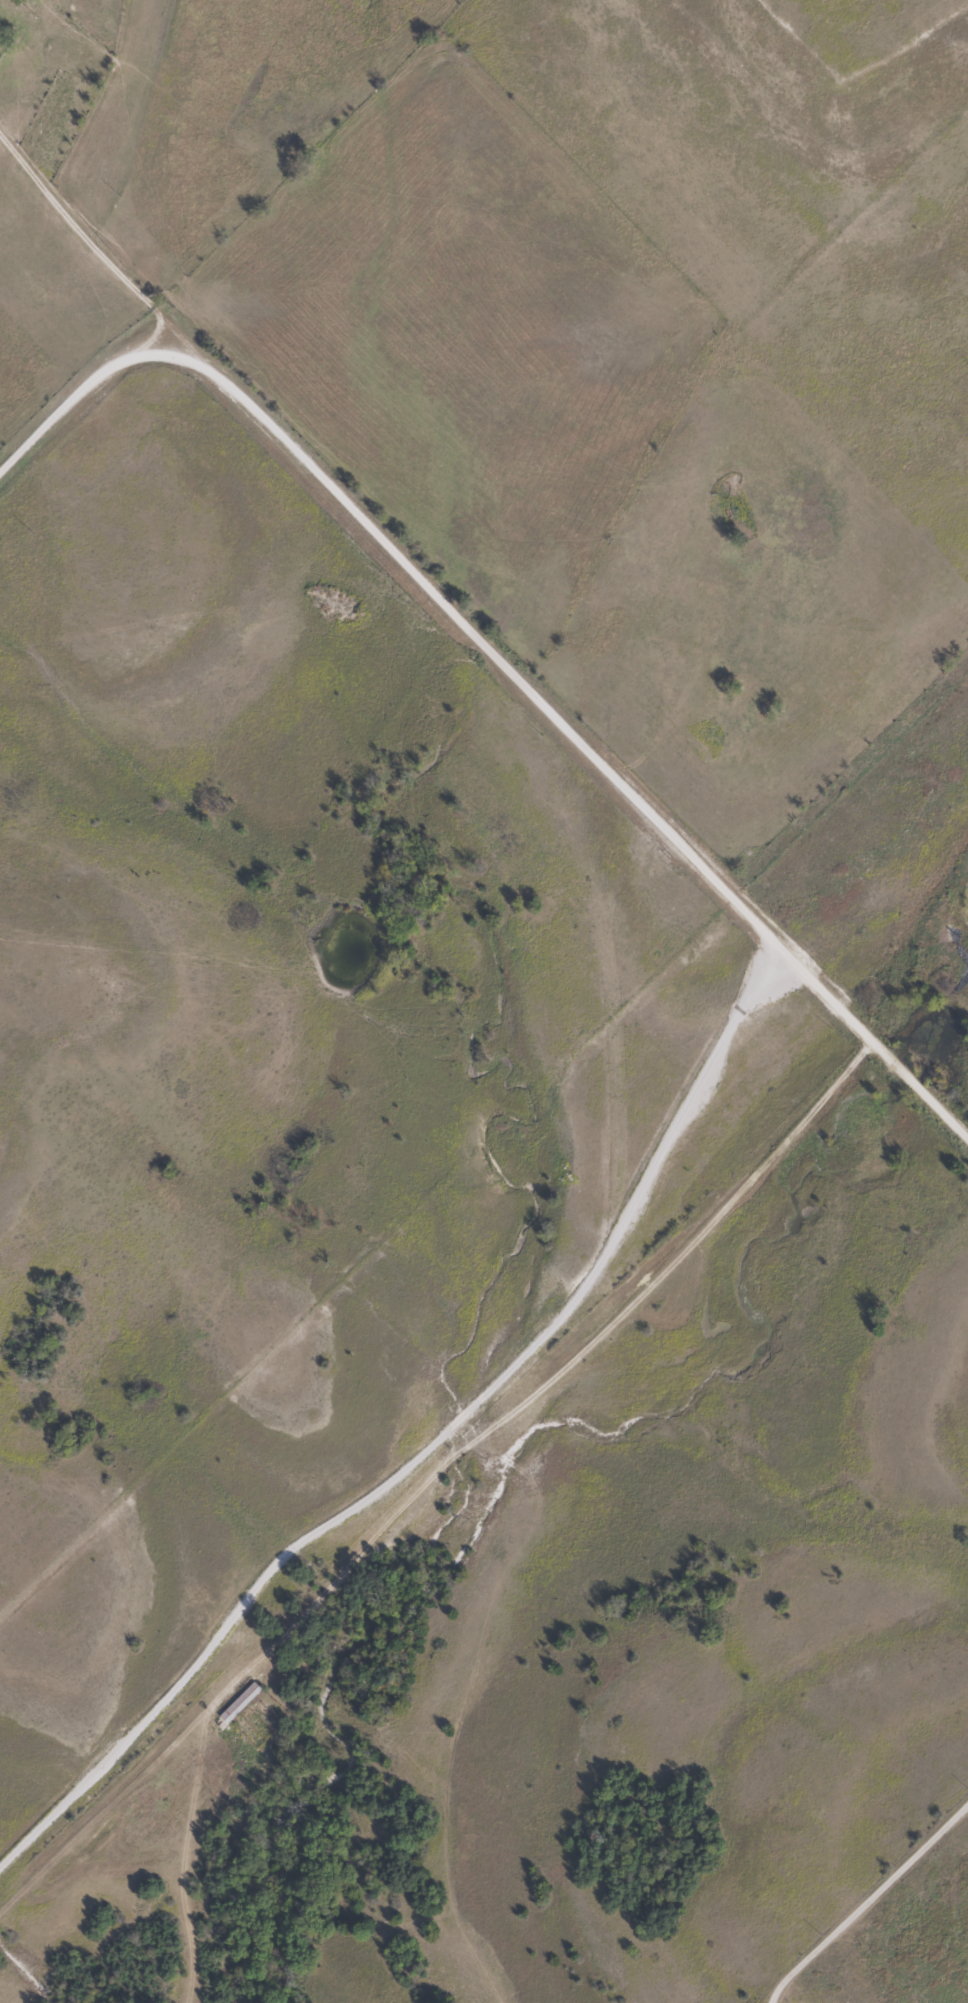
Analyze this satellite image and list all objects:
road: (92, 219)
road: (498, 623)
road: (455, 1482)
building: (236, 1703)
road: (869, 1904)

